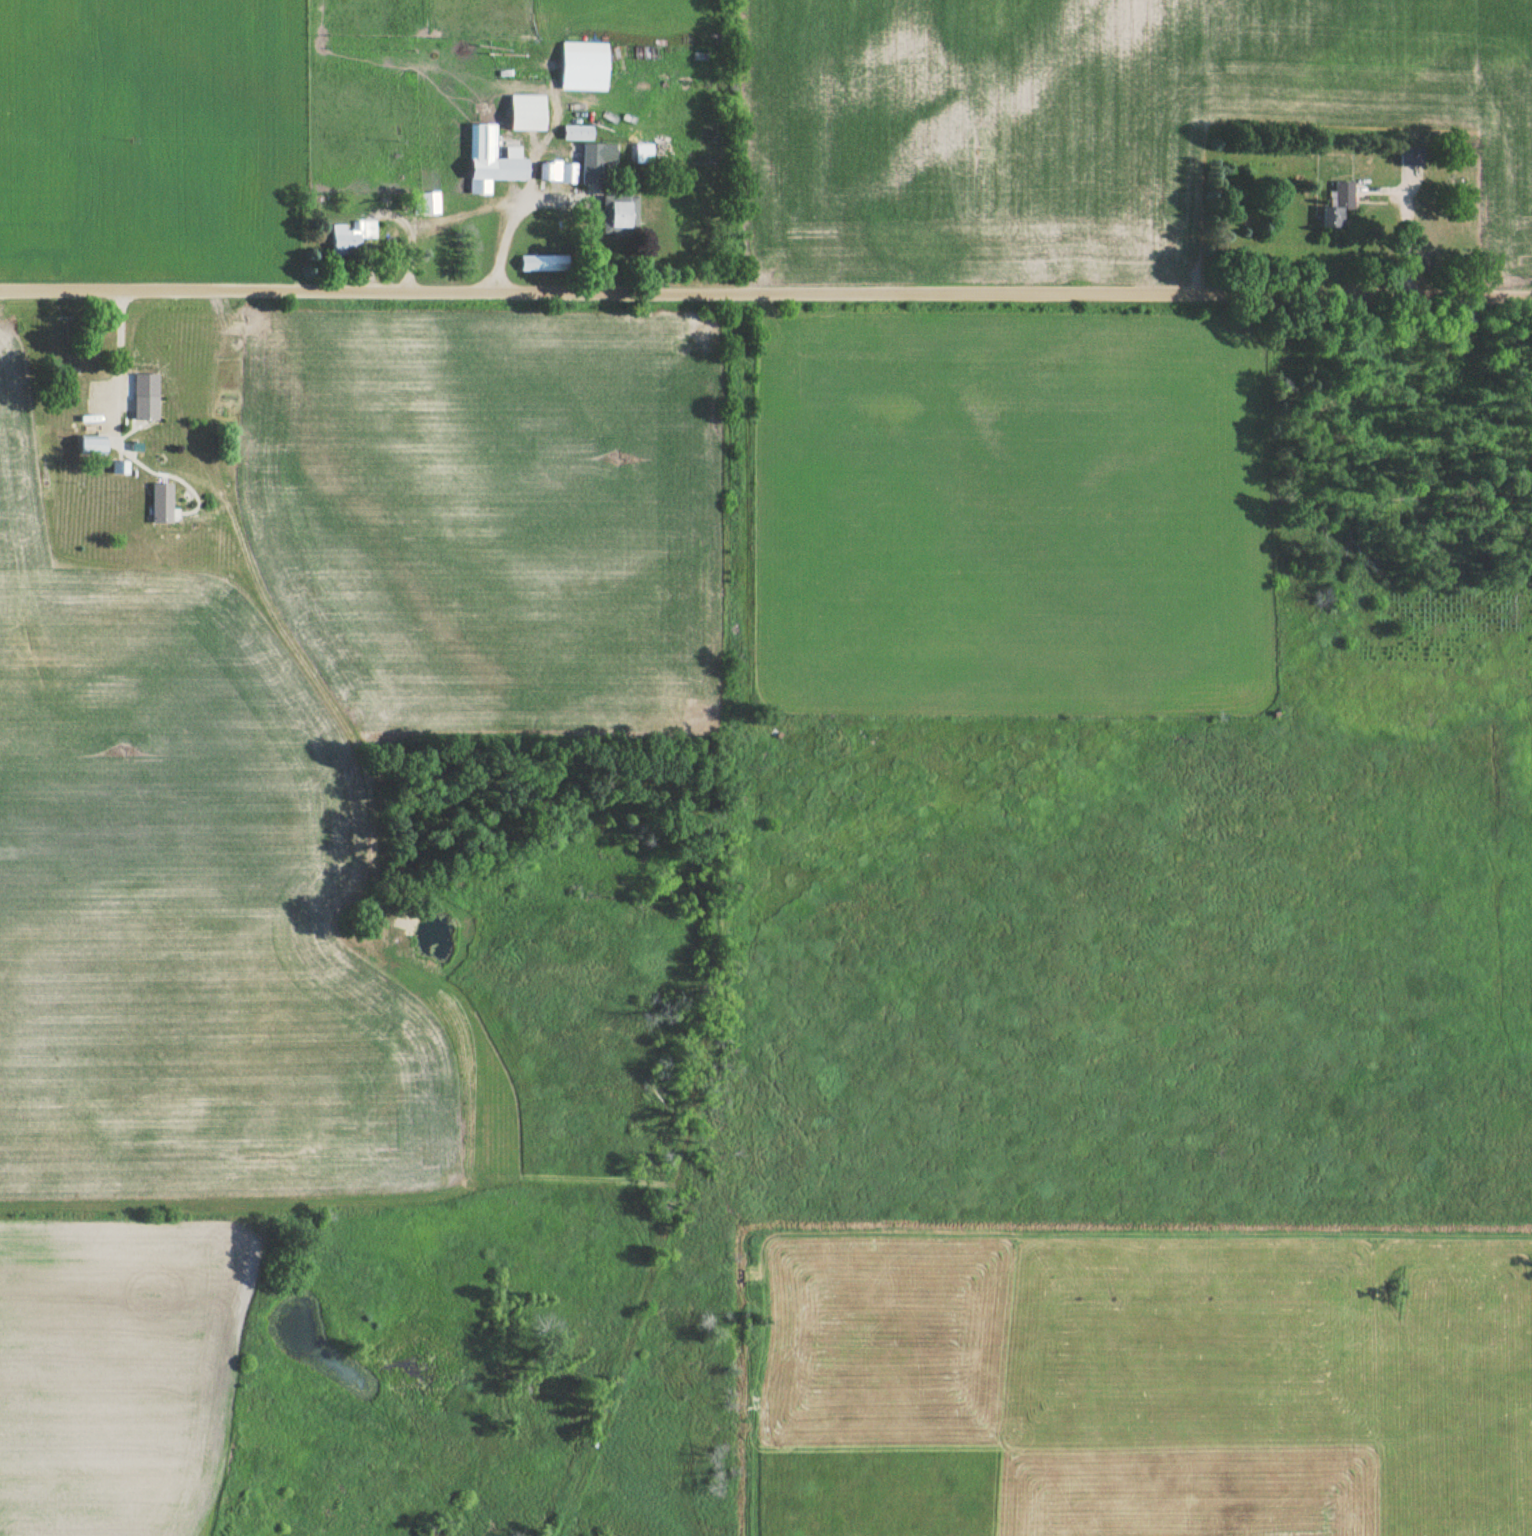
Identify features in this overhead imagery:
crop: (582, 17)
building: (581, 68)
building: (524, 116)
building: (575, 134)
building: (641, 155)
building: (1410, 157)
building: (489, 162)
building: (593, 163)
building: (548, 172)
building: (667, 172)
building: (567, 174)
road: (541, 202)
building: (429, 204)
building: (1338, 206)
building: (617, 218)
building: (351, 237)
building: (541, 265)
road: (765, 294)
road: (110, 358)
building: (144, 401)
building: (90, 439)
building: (134, 441)
building: (118, 460)
building: (160, 495)

